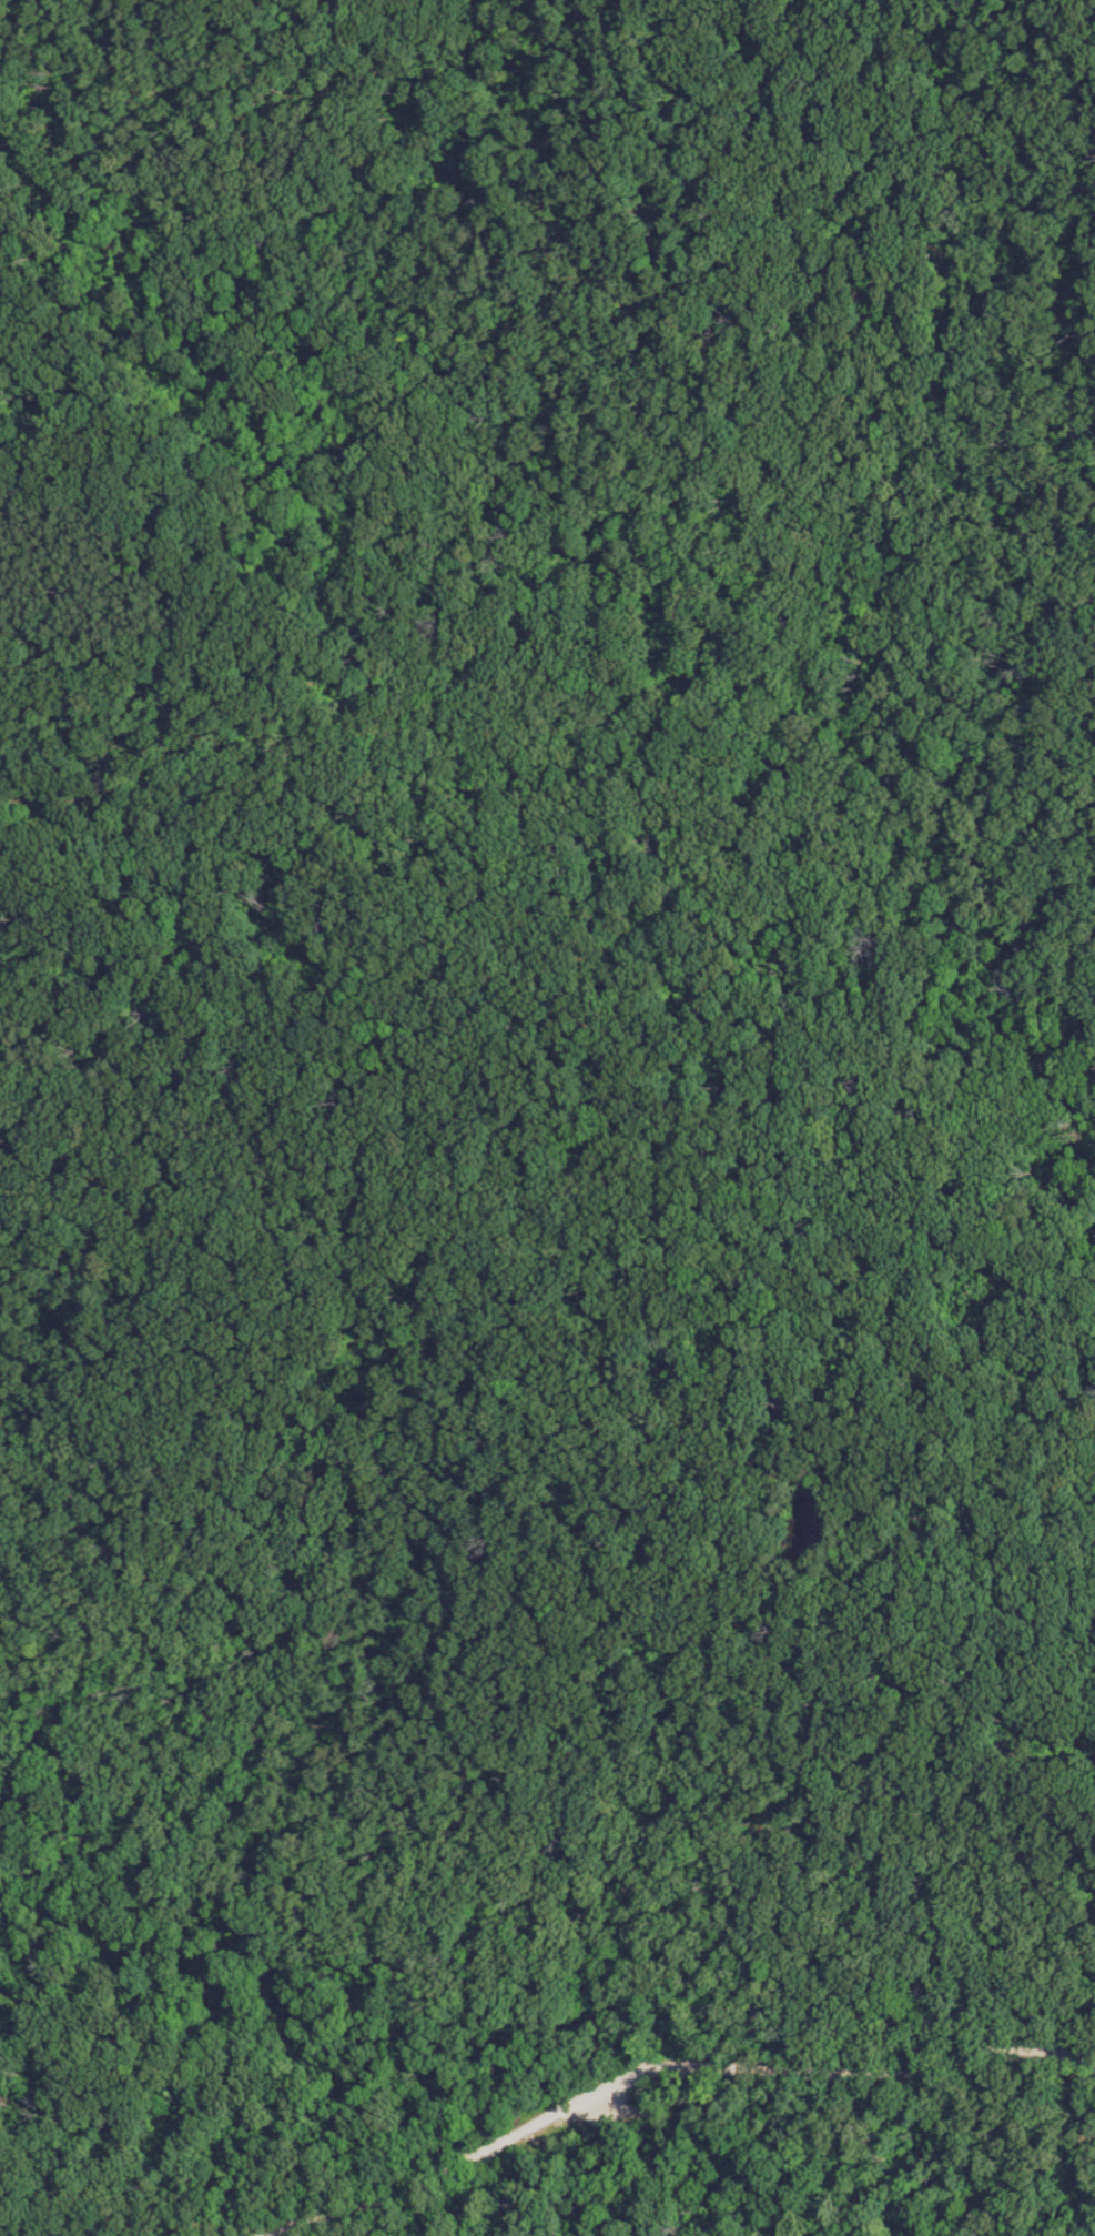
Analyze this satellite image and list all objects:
road: (659, 2069)

